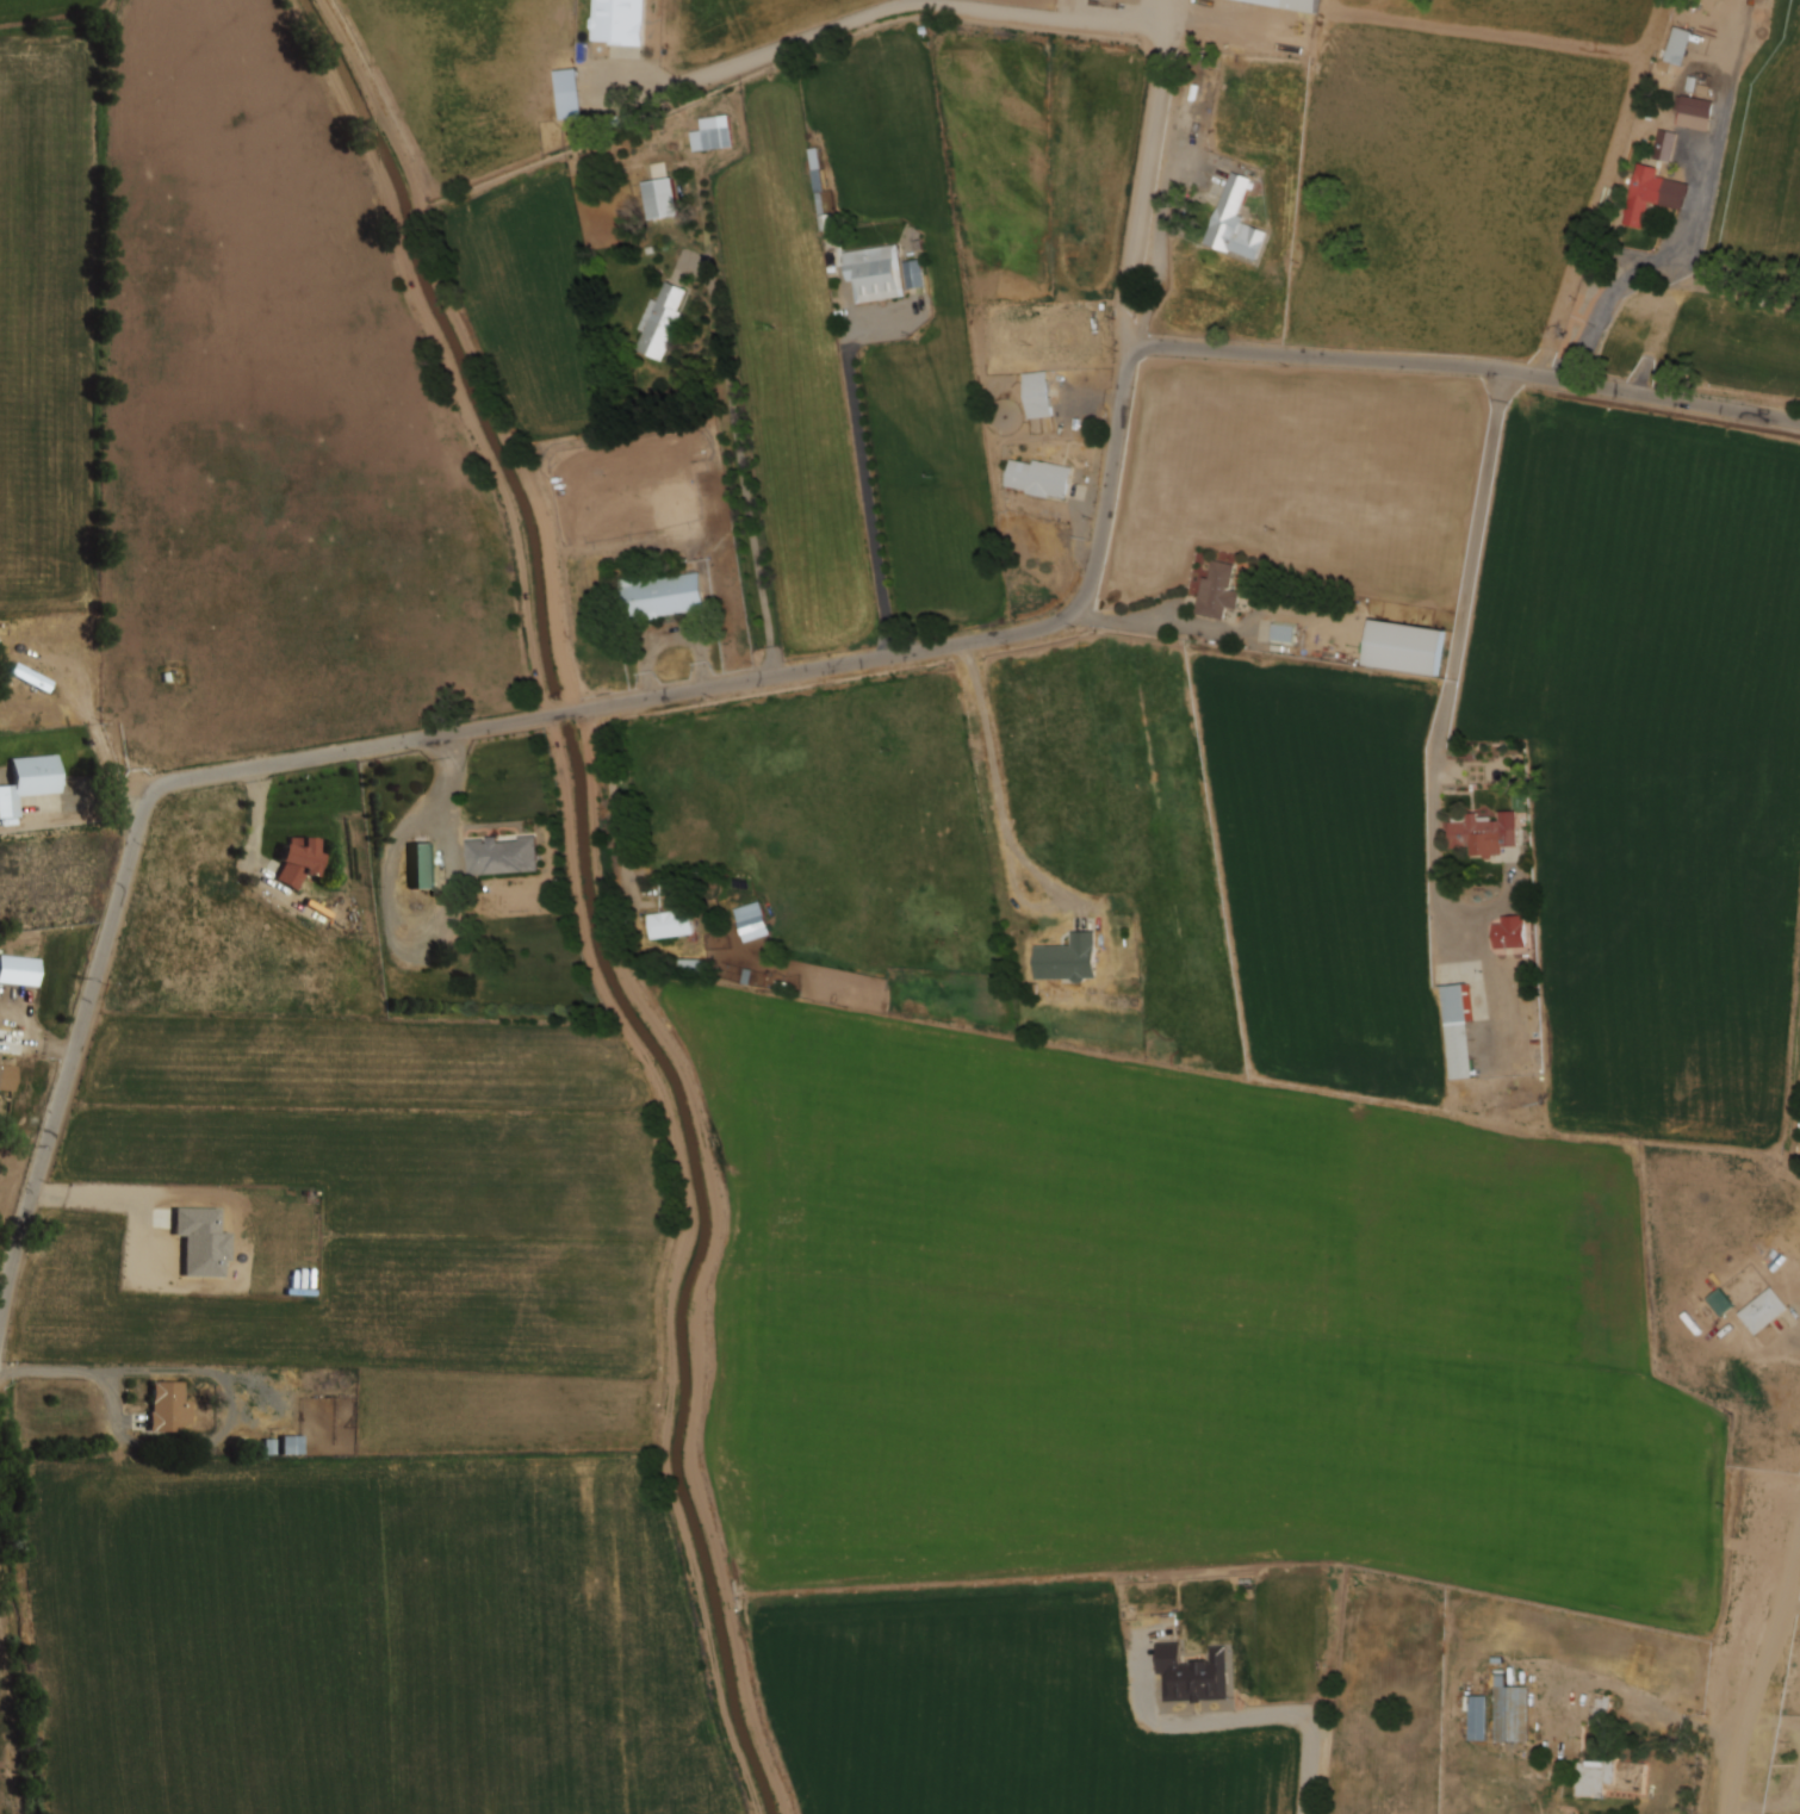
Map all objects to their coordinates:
building: (1295, 4)
road: (1068, 18)
building: (619, 21)
building: (1680, 46)
building: (570, 105)
building: (1694, 112)
building: (716, 132)
building: (1666, 137)
building: (1644, 194)
building: (660, 198)
building: (1235, 220)
road: (1157, 272)
building: (875, 273)
building: (660, 322)
building: (1038, 395)
road: (745, 477)
building: (1039, 478)
road: (869, 501)
building: (1218, 591)
building: (662, 597)
building: (1284, 633)
building: (1407, 647)
road: (1455, 669)
road: (806, 670)
building: (33, 677)
road: (108, 760)
building: (30, 781)
building: (1486, 833)
building: (502, 856)
building: (302, 861)
building: (422, 865)
building: (752, 921)
building: (671, 925)
building: (1512, 933)
building: (1068, 959)
building: (691, 967)
building: (1458, 1031)
building: (0, 1055)
building: (1, 1075)
building: (1721, 1302)
building: (1763, 1311)
building: (170, 1409)
building: (290, 1445)
building: (1193, 1675)
road: (1761, 1679)
building: (1602, 1709)
building: (1510, 1712)
road: (1254, 1716)
building: (1478, 1717)
building: (1610, 1779)

